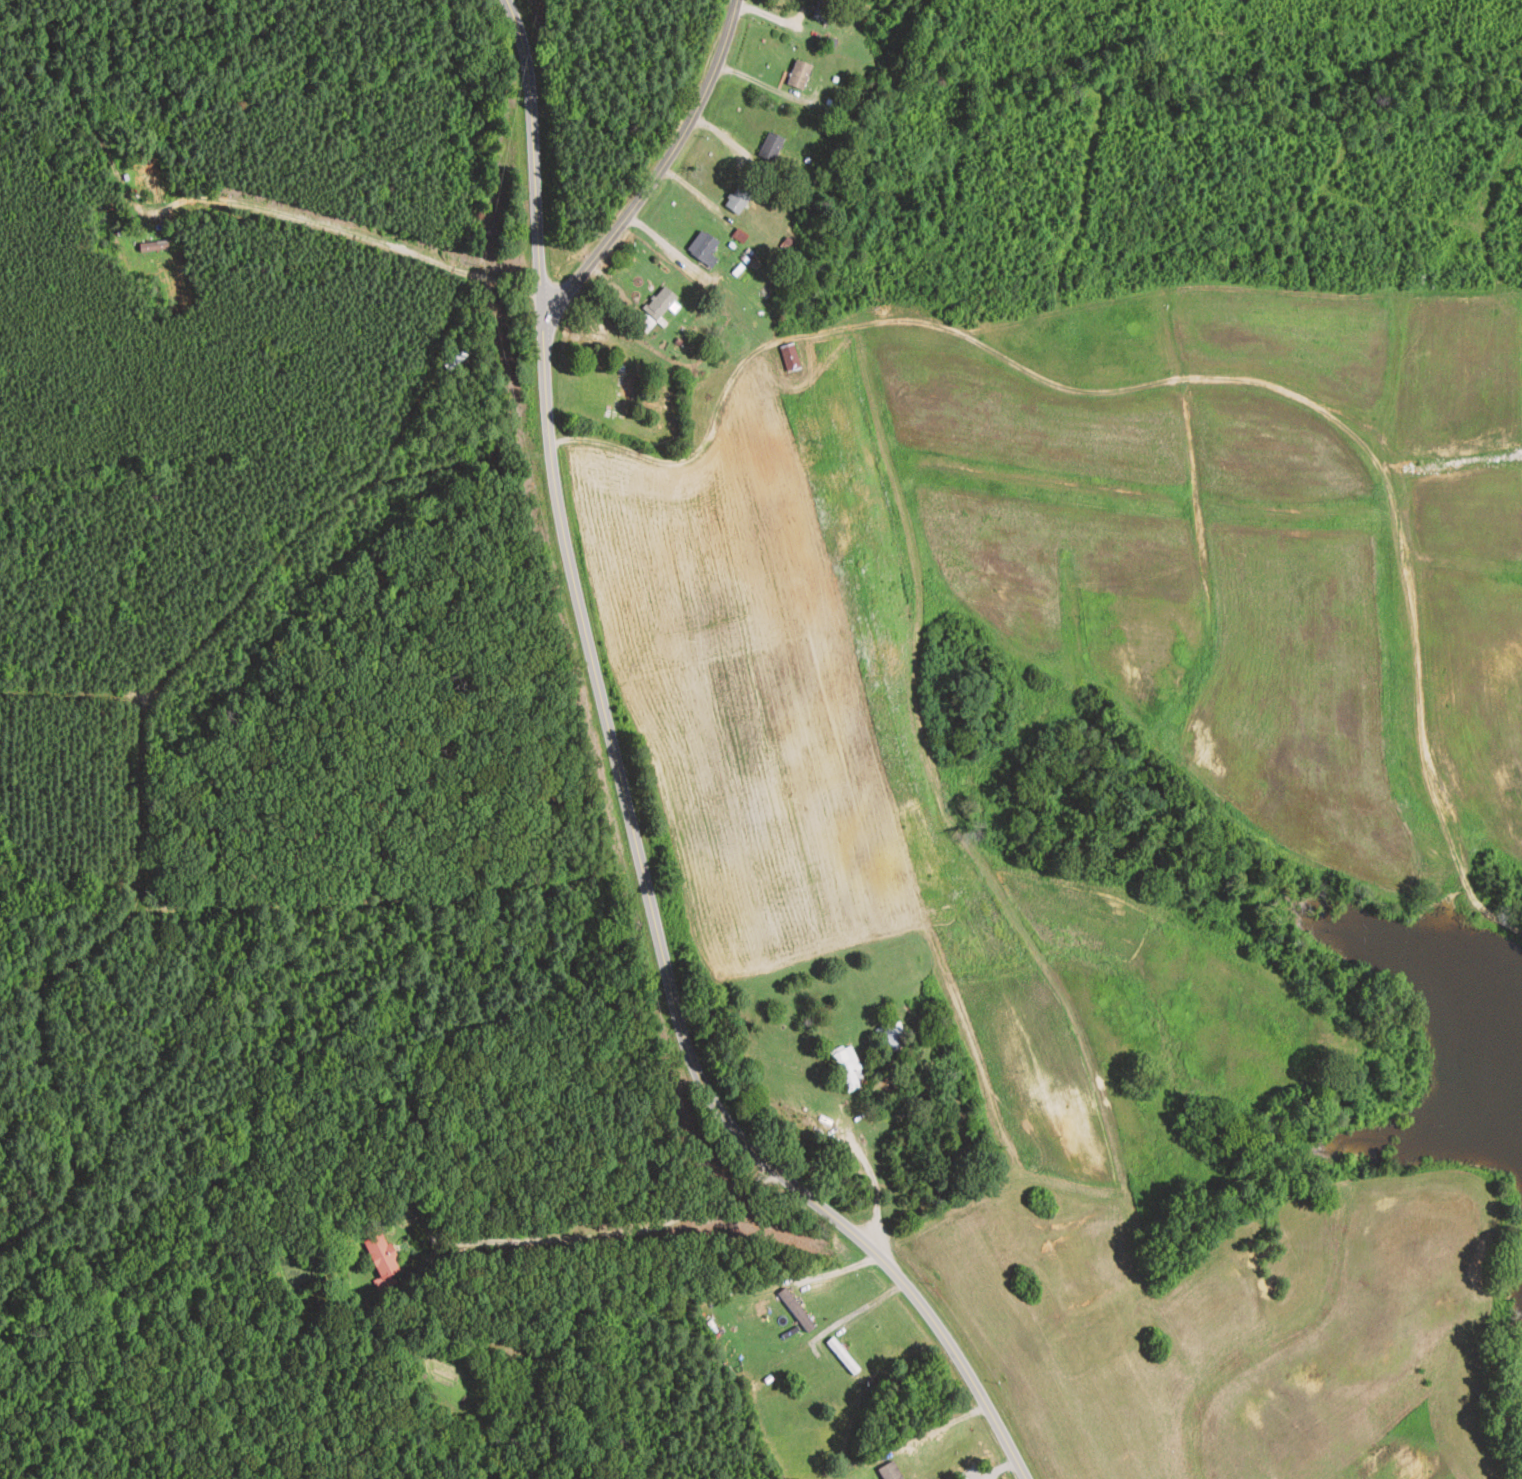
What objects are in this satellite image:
building: (821, 10)
building: (797, 75)
building: (770, 147)
road: (660, 169)
building: (737, 199)
building: (702, 249)
building: (654, 310)
building: (789, 357)
road: (1166, 383)
road: (176, 766)
road: (625, 799)
building: (888, 1038)
building: (847, 1068)
building: (382, 1262)
building: (795, 1310)
road: (597, 1326)
building: (841, 1356)
building: (889, 1471)

